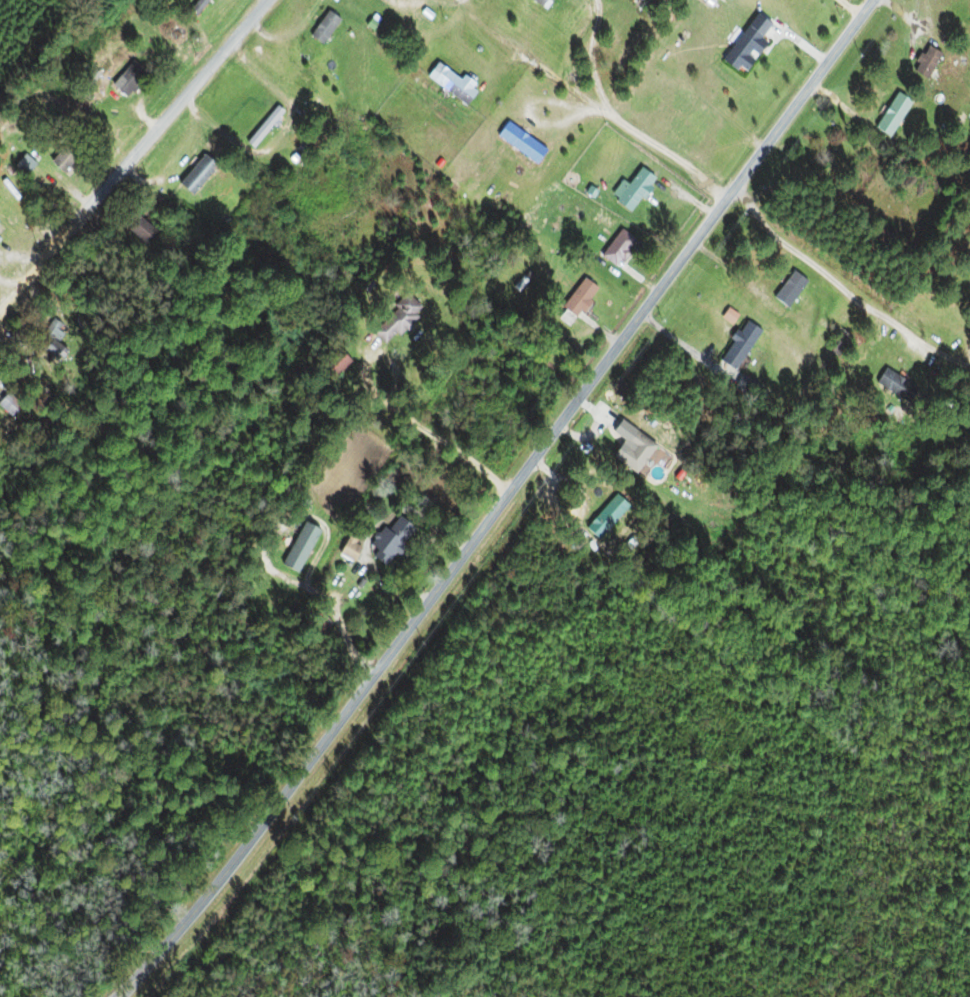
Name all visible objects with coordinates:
building: (540, 3)
building: (196, 7)
building: (323, 28)
building: (747, 45)
building: (924, 63)
building: (127, 80)
building: (449, 84)
building: (892, 114)
road: (625, 125)
building: (263, 128)
building: (519, 143)
road: (133, 152)
building: (23, 165)
building: (195, 175)
building: (633, 190)
building: (616, 248)
building: (789, 289)
building: (578, 298)
building: (393, 319)
building: (559, 325)
road: (843, 333)
building: (836, 342)
building: (739, 345)
building: (895, 386)
building: (7, 406)
building: (633, 453)
road: (501, 503)
building: (605, 517)
building: (389, 540)
building: (298, 548)
building: (347, 552)

